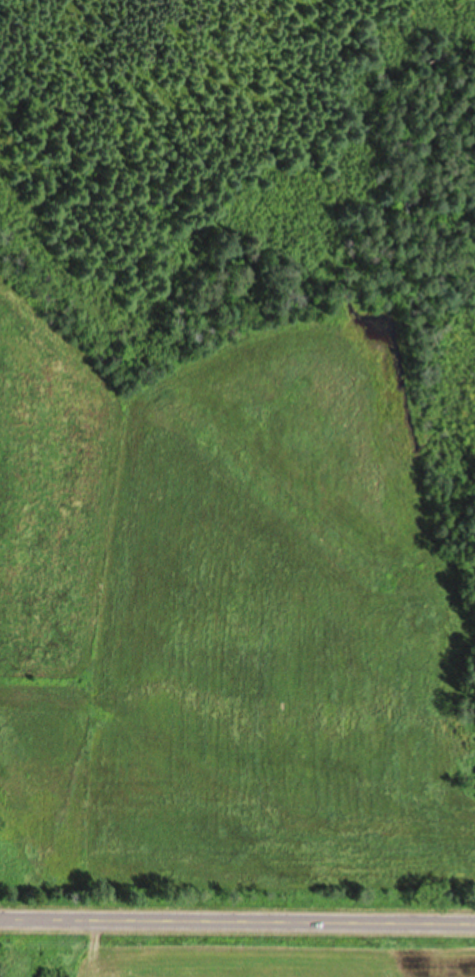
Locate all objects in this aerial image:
road: (237, 922)

